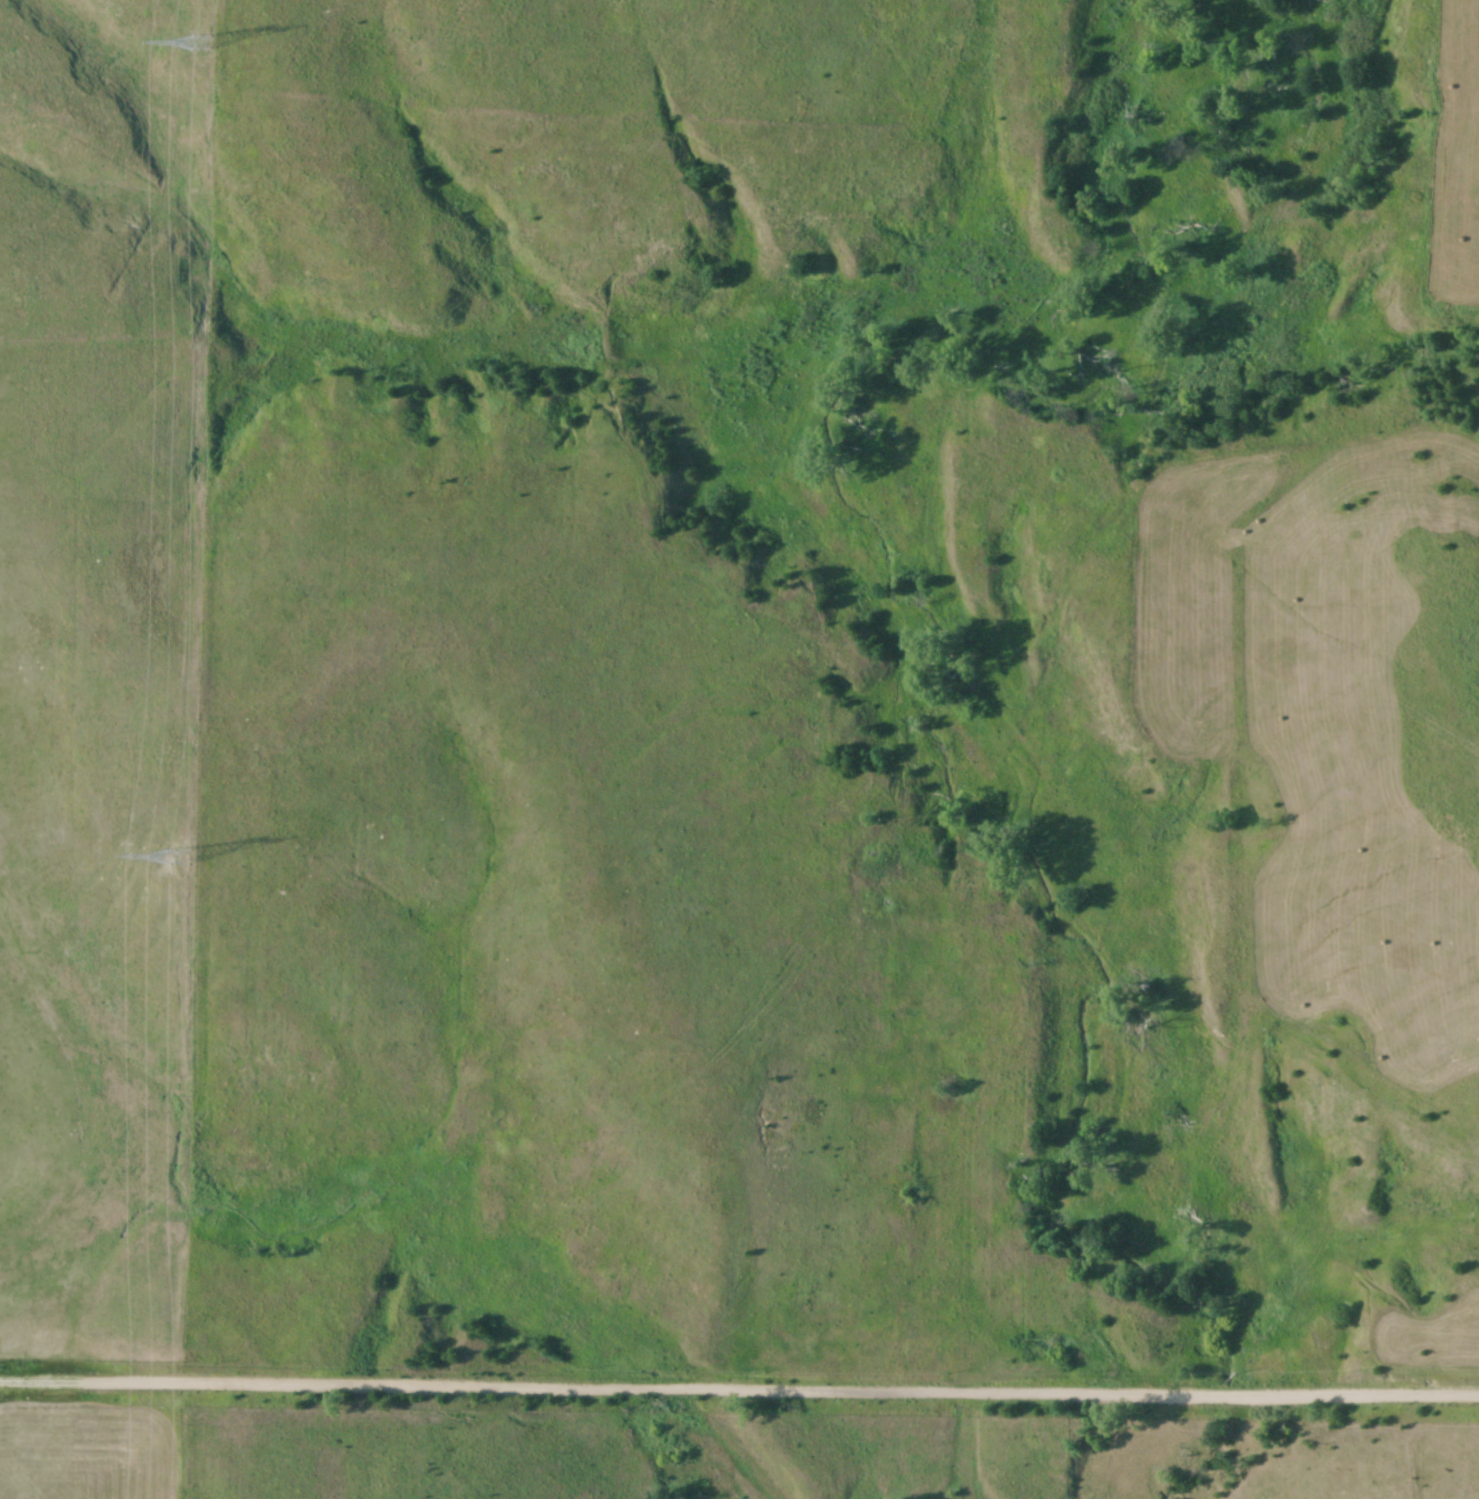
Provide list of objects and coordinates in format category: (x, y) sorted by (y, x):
power tower: (202, 43)
power tower: (179, 856)
road: (739, 1387)

